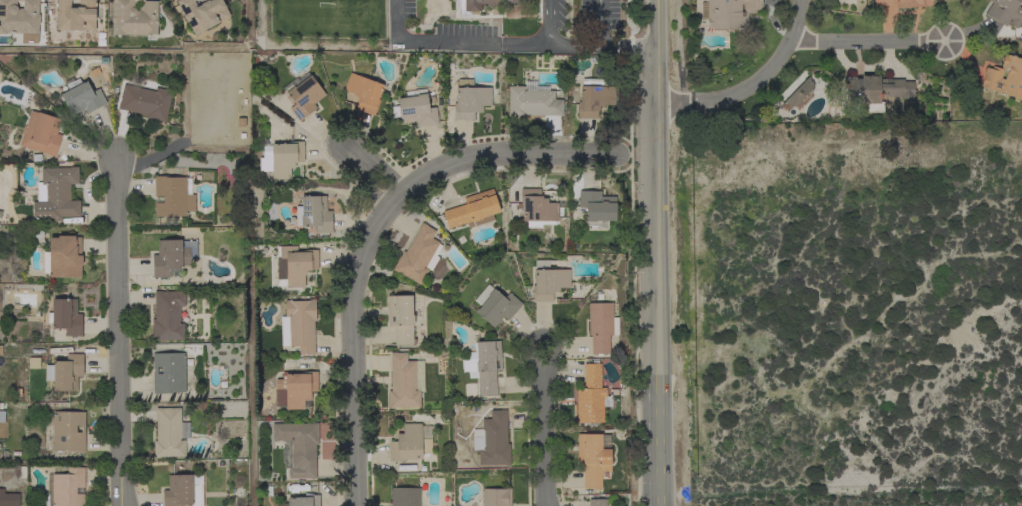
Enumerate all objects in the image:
building: (903, 3)
building: (469, 6)
building: (1005, 12)
building: (203, 13)
building: (728, 13)
building: (75, 15)
building: (19, 17)
building: (134, 17)
road: (549, 17)
road: (800, 17)
road: (396, 20)
road: (598, 23)
building: (384, 29)
road: (476, 41)
road: (868, 43)
road: (198, 46)
road: (600, 46)
building: (1005, 76)
building: (873, 91)
building: (364, 92)
building: (799, 92)
road: (738, 95)
building: (81, 96)
building: (303, 96)
building: (470, 99)
building: (594, 100)
building: (146, 101)
building: (532, 101)
building: (415, 109)
building: (41, 133)
road: (174, 149)
building: (281, 158)
road: (369, 176)
building: (55, 195)
building: (173, 196)
building: (597, 207)
building: (536, 209)
building: (473, 210)
building: (314, 213)
road: (368, 233)
road: (657, 252)
building: (418, 255)
building: (63, 257)
building: (169, 257)
building: (294, 265)
building: (548, 280)
road: (248, 298)
building: (495, 305)
building: (65, 316)
building: (168, 316)
building: (403, 318)
building: (298, 325)
building: (600, 326)
road: (118, 329)
building: (483, 365)
building: (67, 372)
building: (168, 372)
building: (404, 381)
building: (295, 388)
building: (590, 396)
building: (1, 417)
road: (545, 430)
building: (67, 431)
building: (169, 433)
building: (492, 439)
building: (410, 442)
building: (297, 447)
building: (593, 457)
building: (64, 488)
building: (182, 490)
building: (405, 496)
building: (496, 497)
building: (8, 499)
building: (301, 501)
building: (597, 502)

